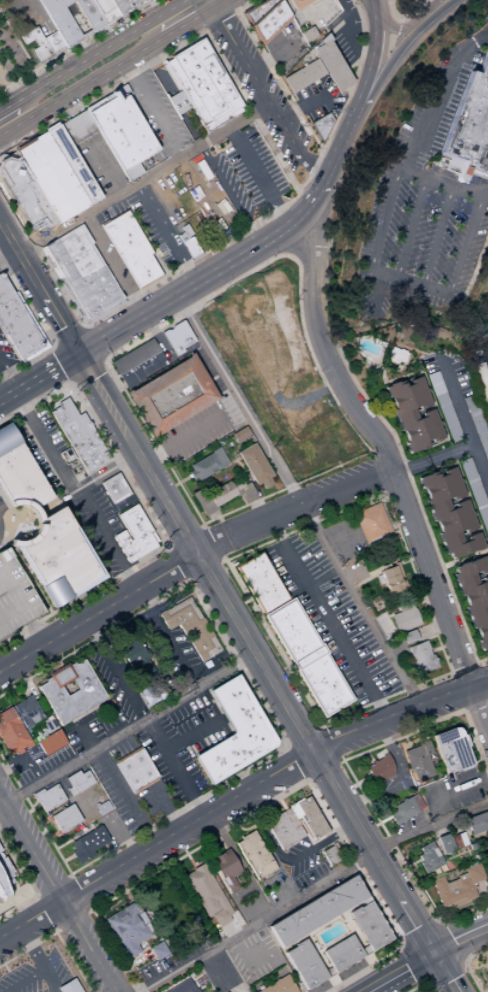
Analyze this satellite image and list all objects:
building: (148, 0)
building: (411, 3)
parking lot: (411, 3)
road: (444, 3)
building: (54, 5)
building: (128, 5)
road: (210, 5)
road: (221, 5)
road: (233, 5)
building: (293, 5)
parking lot: (293, 5)
road: (317, 9)
building: (107, 10)
road: (421, 11)
road: (424, 11)
building: (72, 12)
building: (274, 13)
building: (90, 14)
road: (38, 15)
road: (193, 15)
parking lot: (314, 16)
road: (402, 19)
road: (219, 20)
building: (259, 23)
road: (387, 24)
road: (186, 25)
building: (66, 27)
road: (342, 31)
parking lot: (345, 33)
building: (307, 34)
building: (55, 42)
building: (35, 45)
road: (77, 45)
road: (99, 51)
road: (272, 53)
parking lot: (11, 54)
road: (398, 55)
road: (369, 61)
building: (330, 64)
road: (130, 67)
building: (302, 75)
building: (203, 85)
road: (80, 89)
road: (435, 96)
road: (265, 97)
road: (301, 105)
road: (7, 106)
road: (66, 112)
road: (157, 114)
building: (87, 121)
building: (470, 122)
building: (82, 125)
building: (320, 126)
building: (76, 128)
road: (225, 128)
building: (68, 133)
building: (122, 134)
road: (263, 134)
road: (314, 139)
road: (203, 149)
road: (333, 161)
building: (71, 165)
road: (105, 167)
road: (310, 172)
parking lot: (245, 174)
road: (260, 176)
building: (48, 178)
building: (15, 179)
road: (441, 186)
road: (204, 191)
parking lot: (207, 197)
building: (29, 205)
road: (90, 208)
building: (35, 215)
road: (382, 220)
road: (161, 224)
building: (41, 225)
road: (0, 227)
road: (0, 228)
road: (409, 228)
building: (184, 230)
parking lot: (424, 231)
building: (181, 237)
road: (436, 237)
building: (66, 245)
road: (465, 245)
building: (189, 247)
building: (130, 249)
building: (74, 260)
road: (22, 263)
road: (110, 267)
building: (80, 270)
road: (193, 275)
building: (86, 280)
road: (409, 281)
building: (2, 283)
road: (200, 284)
building: (271, 290)
building: (93, 291)
building: (5, 292)
road: (376, 294)
building: (114, 295)
building: (104, 300)
building: (7, 303)
building: (236, 304)
building: (90, 308)
road: (72, 310)
building: (11, 315)
building: (238, 322)
road: (484, 324)
road: (61, 327)
road: (44, 328)
road: (330, 330)
building: (181, 334)
building: (22, 337)
road: (67, 337)
road: (156, 337)
building: (171, 342)
building: (254, 343)
road: (92, 345)
building: (282, 350)
road: (237, 351)
parking lot: (5, 355)
building: (393, 355)
traffic signals: (78, 356)
building: (137, 363)
road: (59, 365)
road: (53, 370)
road: (86, 371)
road: (317, 372)
road: (9, 377)
building: (481, 383)
road: (68, 384)
road: (14, 394)
building: (169, 396)
road: (307, 398)
road: (240, 405)
building: (443, 407)
building: (411, 414)
road: (137, 415)
road: (463, 420)
building: (476, 424)
building: (239, 435)
building: (78, 436)
road: (181, 439)
road: (381, 450)
road: (449, 454)
building: (205, 465)
building: (254, 466)
road: (391, 467)
road: (409, 467)
building: (18, 473)
road: (377, 473)
road: (62, 475)
road: (397, 486)
building: (114, 488)
building: (222, 492)
road: (383, 493)
building: (475, 494)
parking lot: (1, 507)
road: (144, 513)
building: (449, 513)
building: (37, 515)
building: (371, 523)
road: (201, 525)
building: (133, 534)
road: (184, 537)
building: (29, 540)
road: (106, 542)
road: (211, 544)
road: (166, 547)
road: (223, 561)
building: (59, 562)
road: (403, 562)
road: (190, 563)
road: (178, 564)
road: (204, 571)
building: (390, 581)
road: (188, 582)
building: (258, 582)
road: (411, 585)
building: (14, 597)
parking lot: (14, 597)
building: (474, 598)
road: (224, 604)
road: (363, 611)
parking lot: (331, 617)
building: (403, 617)
road: (329, 625)
building: (189, 627)
road: (431, 629)
building: (409, 636)
road: (167, 641)
road: (434, 650)
building: (133, 655)
road: (443, 656)
building: (305, 657)
building: (420, 657)
road: (462, 668)
road: (116, 672)
road: (479, 684)
building: (69, 691)
road: (455, 691)
road: (487, 704)
road: (475, 707)
building: (26, 712)
road: (401, 719)
road: (321, 725)
road: (418, 728)
road: (128, 730)
building: (232, 732)
building: (12, 733)
road: (278, 733)
road: (192, 735)
road: (84, 736)
road: (304, 738)
building: (51, 742)
road: (406, 743)
road: (331, 744)
road: (283, 746)
building: (450, 750)
road: (24, 757)
road: (369, 757)
building: (418, 761)
road: (296, 764)
building: (134, 770)
road: (323, 770)
building: (378, 771)
road: (176, 772)
road: (351, 777)
road: (362, 780)
building: (77, 782)
road: (400, 783)
road: (456, 790)
road: (277, 796)
building: (47, 797)
building: (416, 802)
road: (123, 803)
road: (280, 803)
road: (33, 804)
road: (1, 805)
building: (101, 807)
building: (401, 810)
building: (294, 811)
building: (65, 818)
building: (288, 818)
building: (310, 818)
road: (384, 820)
road: (43, 822)
building: (478, 822)
road: (250, 827)
building: (281, 831)
road: (51, 836)
building: (458, 839)
road: (311, 842)
road: (221, 843)
building: (444, 843)
building: (483, 843)
road: (63, 844)
building: (86, 844)
road: (105, 847)
road: (158, 851)
building: (254, 855)
building: (329, 856)
building: (427, 857)
road: (66, 859)
road: (190, 860)
road: (289, 860)
building: (487, 862)
road: (411, 864)
building: (4, 866)
building: (224, 869)
road: (69, 876)
road: (27, 885)
road: (52, 887)
building: (456, 888)
road: (79, 893)
building: (207, 895)
building: (0, 896)
road: (34, 896)
road: (54, 897)
road: (298, 898)
road: (481, 900)
road: (402, 902)
road: (90, 910)
building: (313, 911)
road: (45, 912)
road: (70, 918)
road: (437, 922)
building: (367, 926)
building: (125, 929)
road: (54, 930)
road: (418, 933)
road: (460, 939)
road: (449, 940)
road: (478, 942)
road: (400, 943)
building: (157, 950)
building: (362, 950)
traffic signals: (433, 953)
building: (339, 954)
road: (486, 954)
parking lot: (253, 955)
road: (368, 958)
road: (464, 961)
road: (39, 962)
road: (413, 962)
building: (301, 965)
road: (466, 965)
road: (126, 966)
road: (442, 971)
building: (486, 971)
building: (325, 972)
road: (400, 972)
road: (443, 972)
parking lot: (38, 975)
road: (332, 980)
road: (24, 981)
building: (199, 981)
road: (420, 983)
building: (278, 986)
building: (68, 987)
building: (181, 987)
road: (373, 990)

